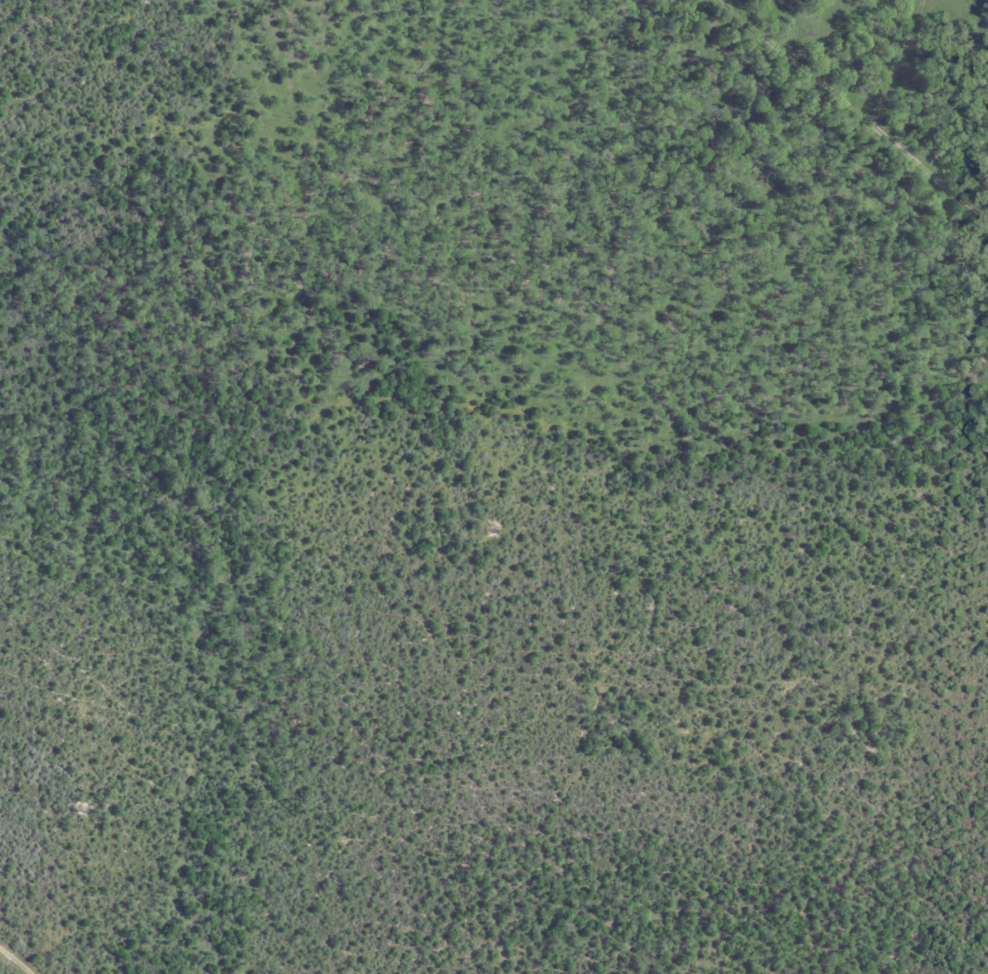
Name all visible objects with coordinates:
road: (848, 114)

